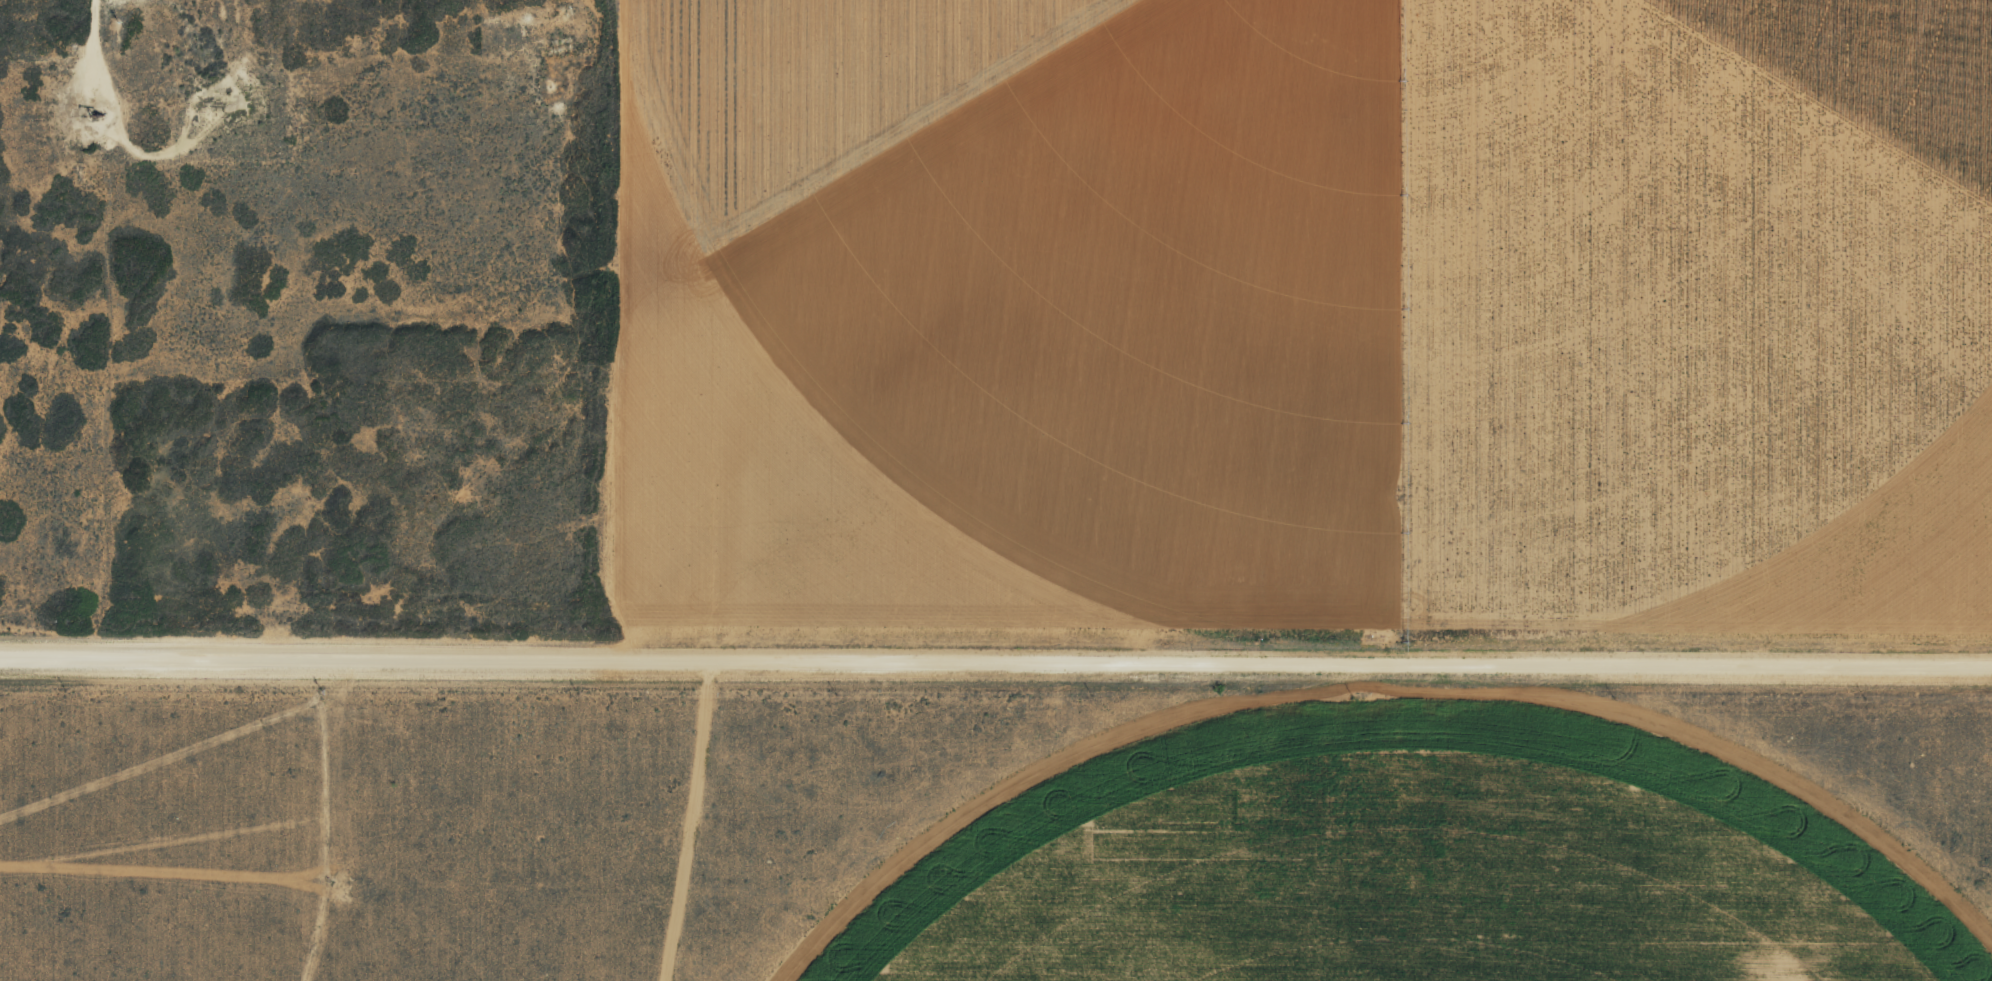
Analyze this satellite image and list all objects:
road: (99, 323)
road: (995, 645)

